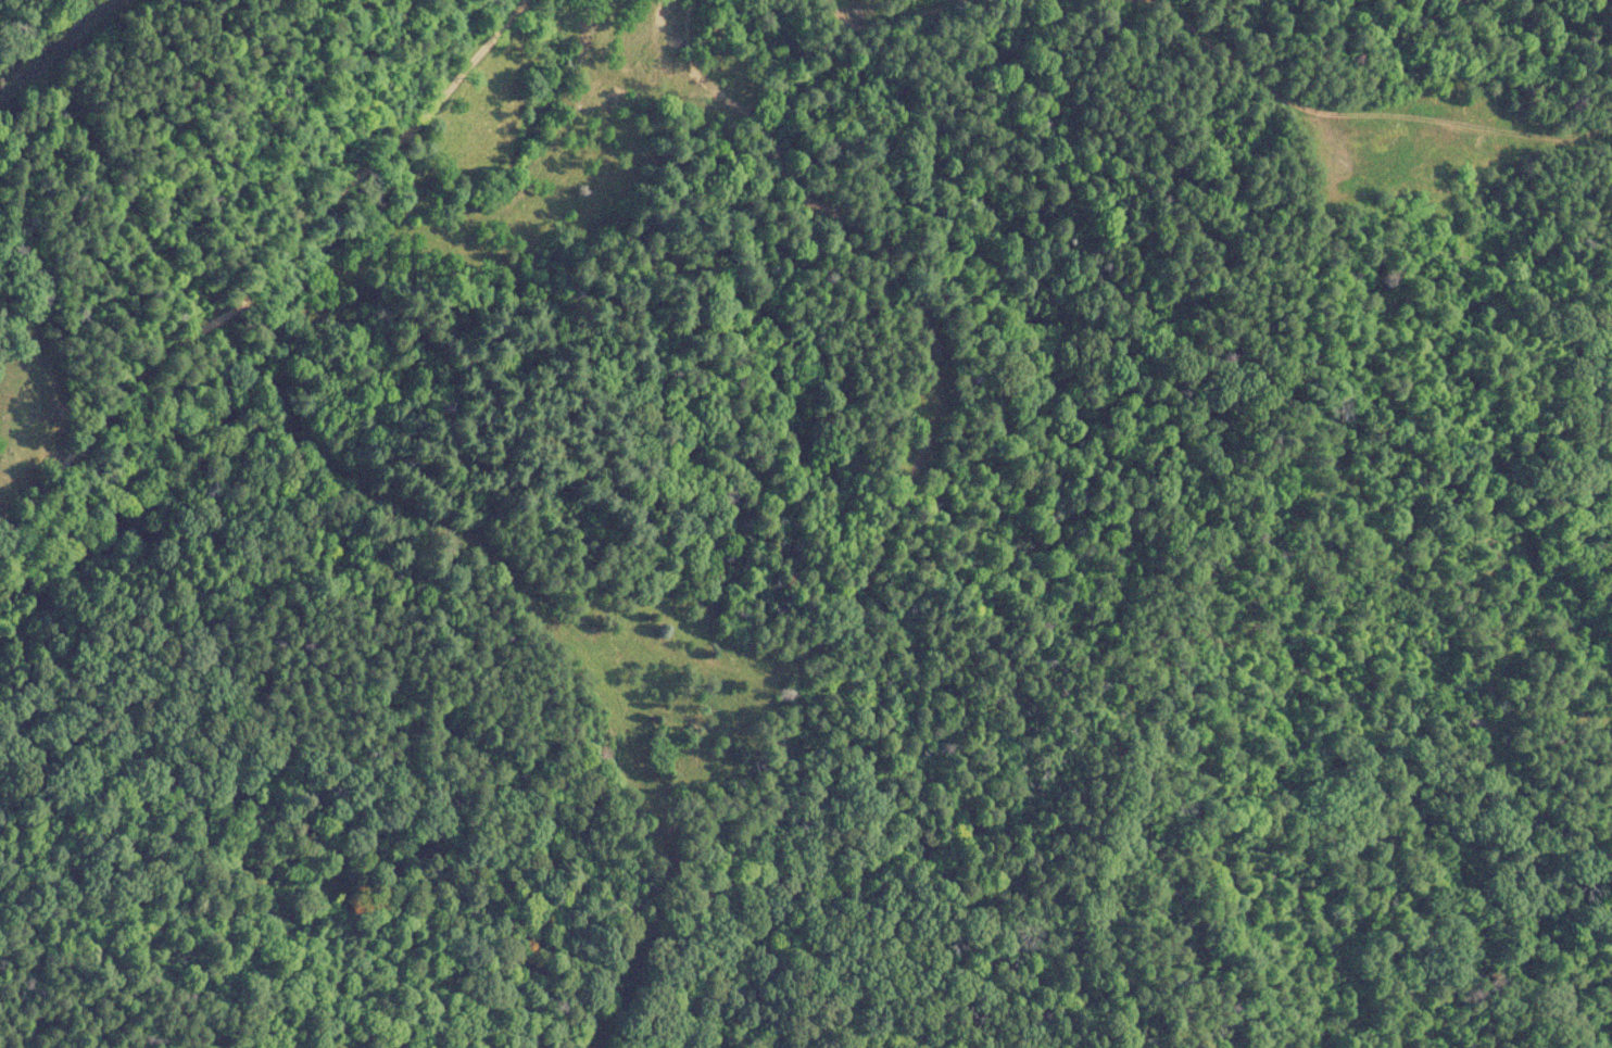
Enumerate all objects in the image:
road: (251, 261)

